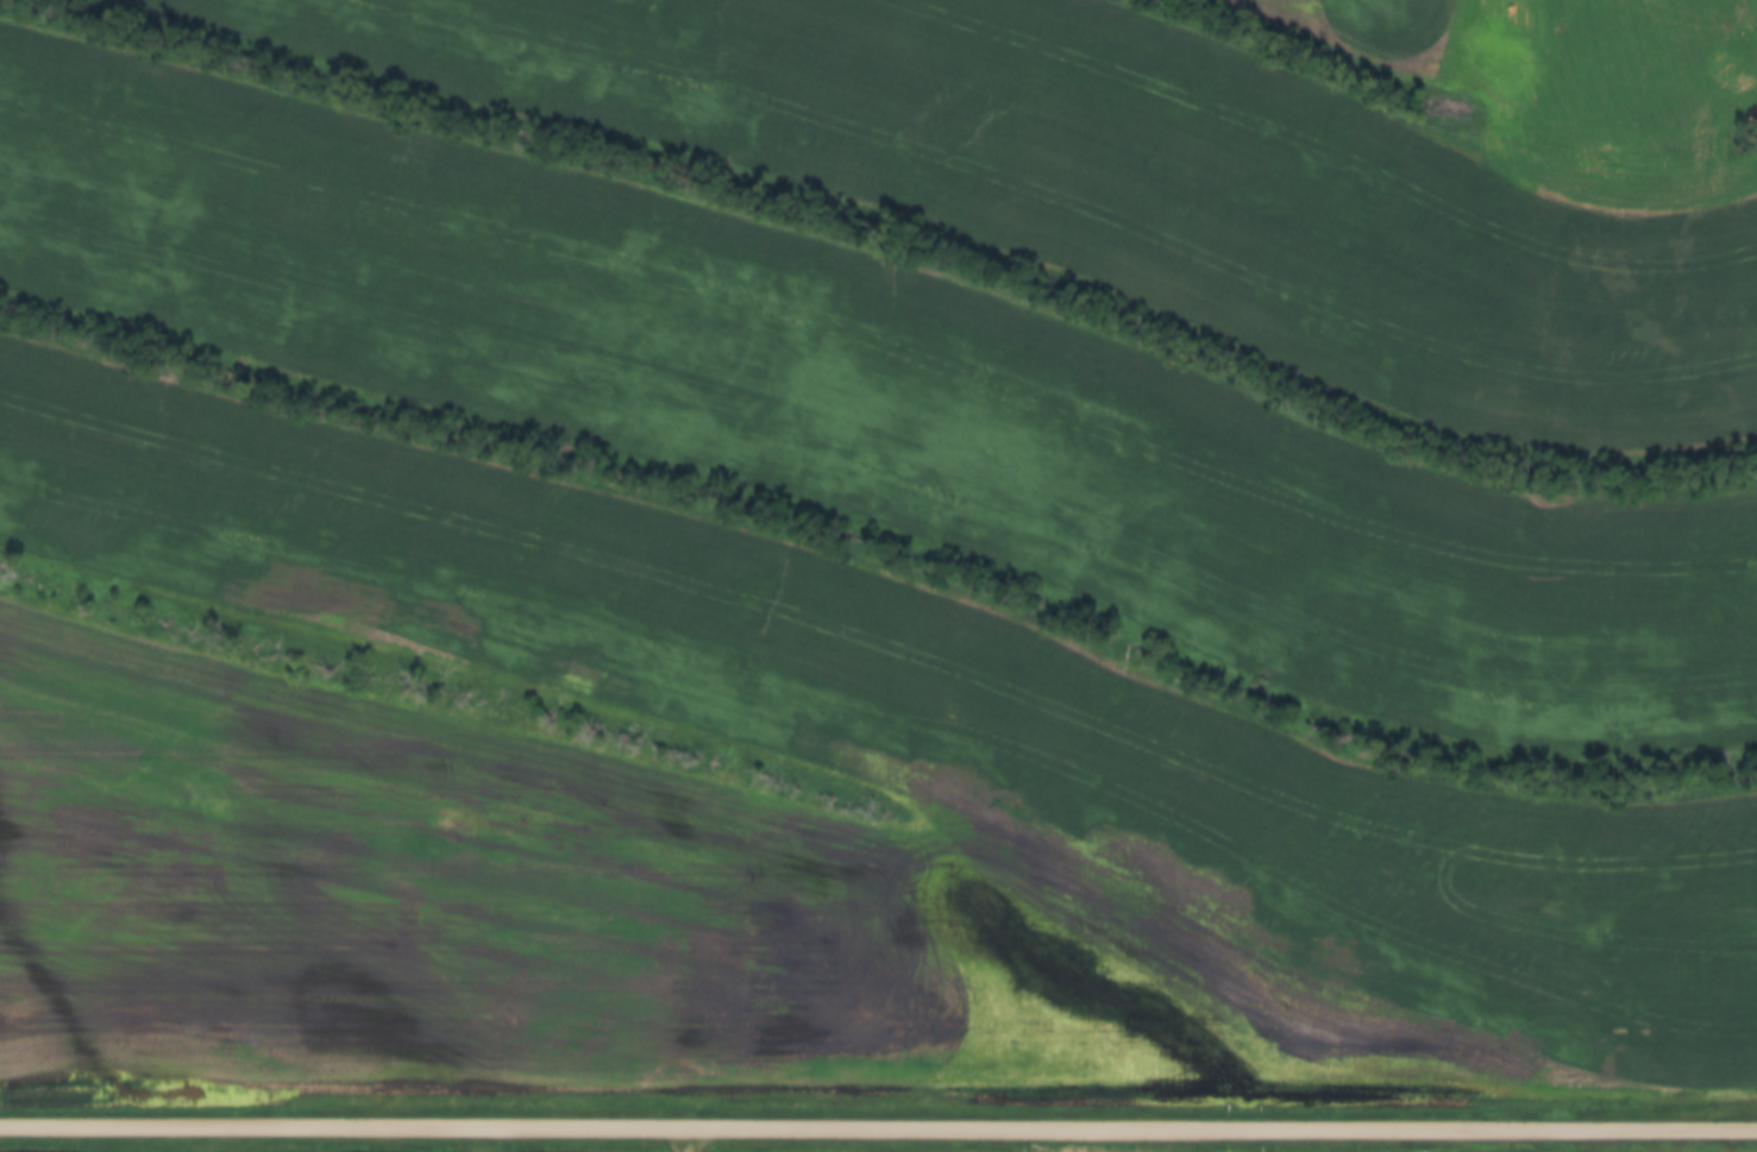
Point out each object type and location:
road: (878, 1118)
road: (699, 1134)

